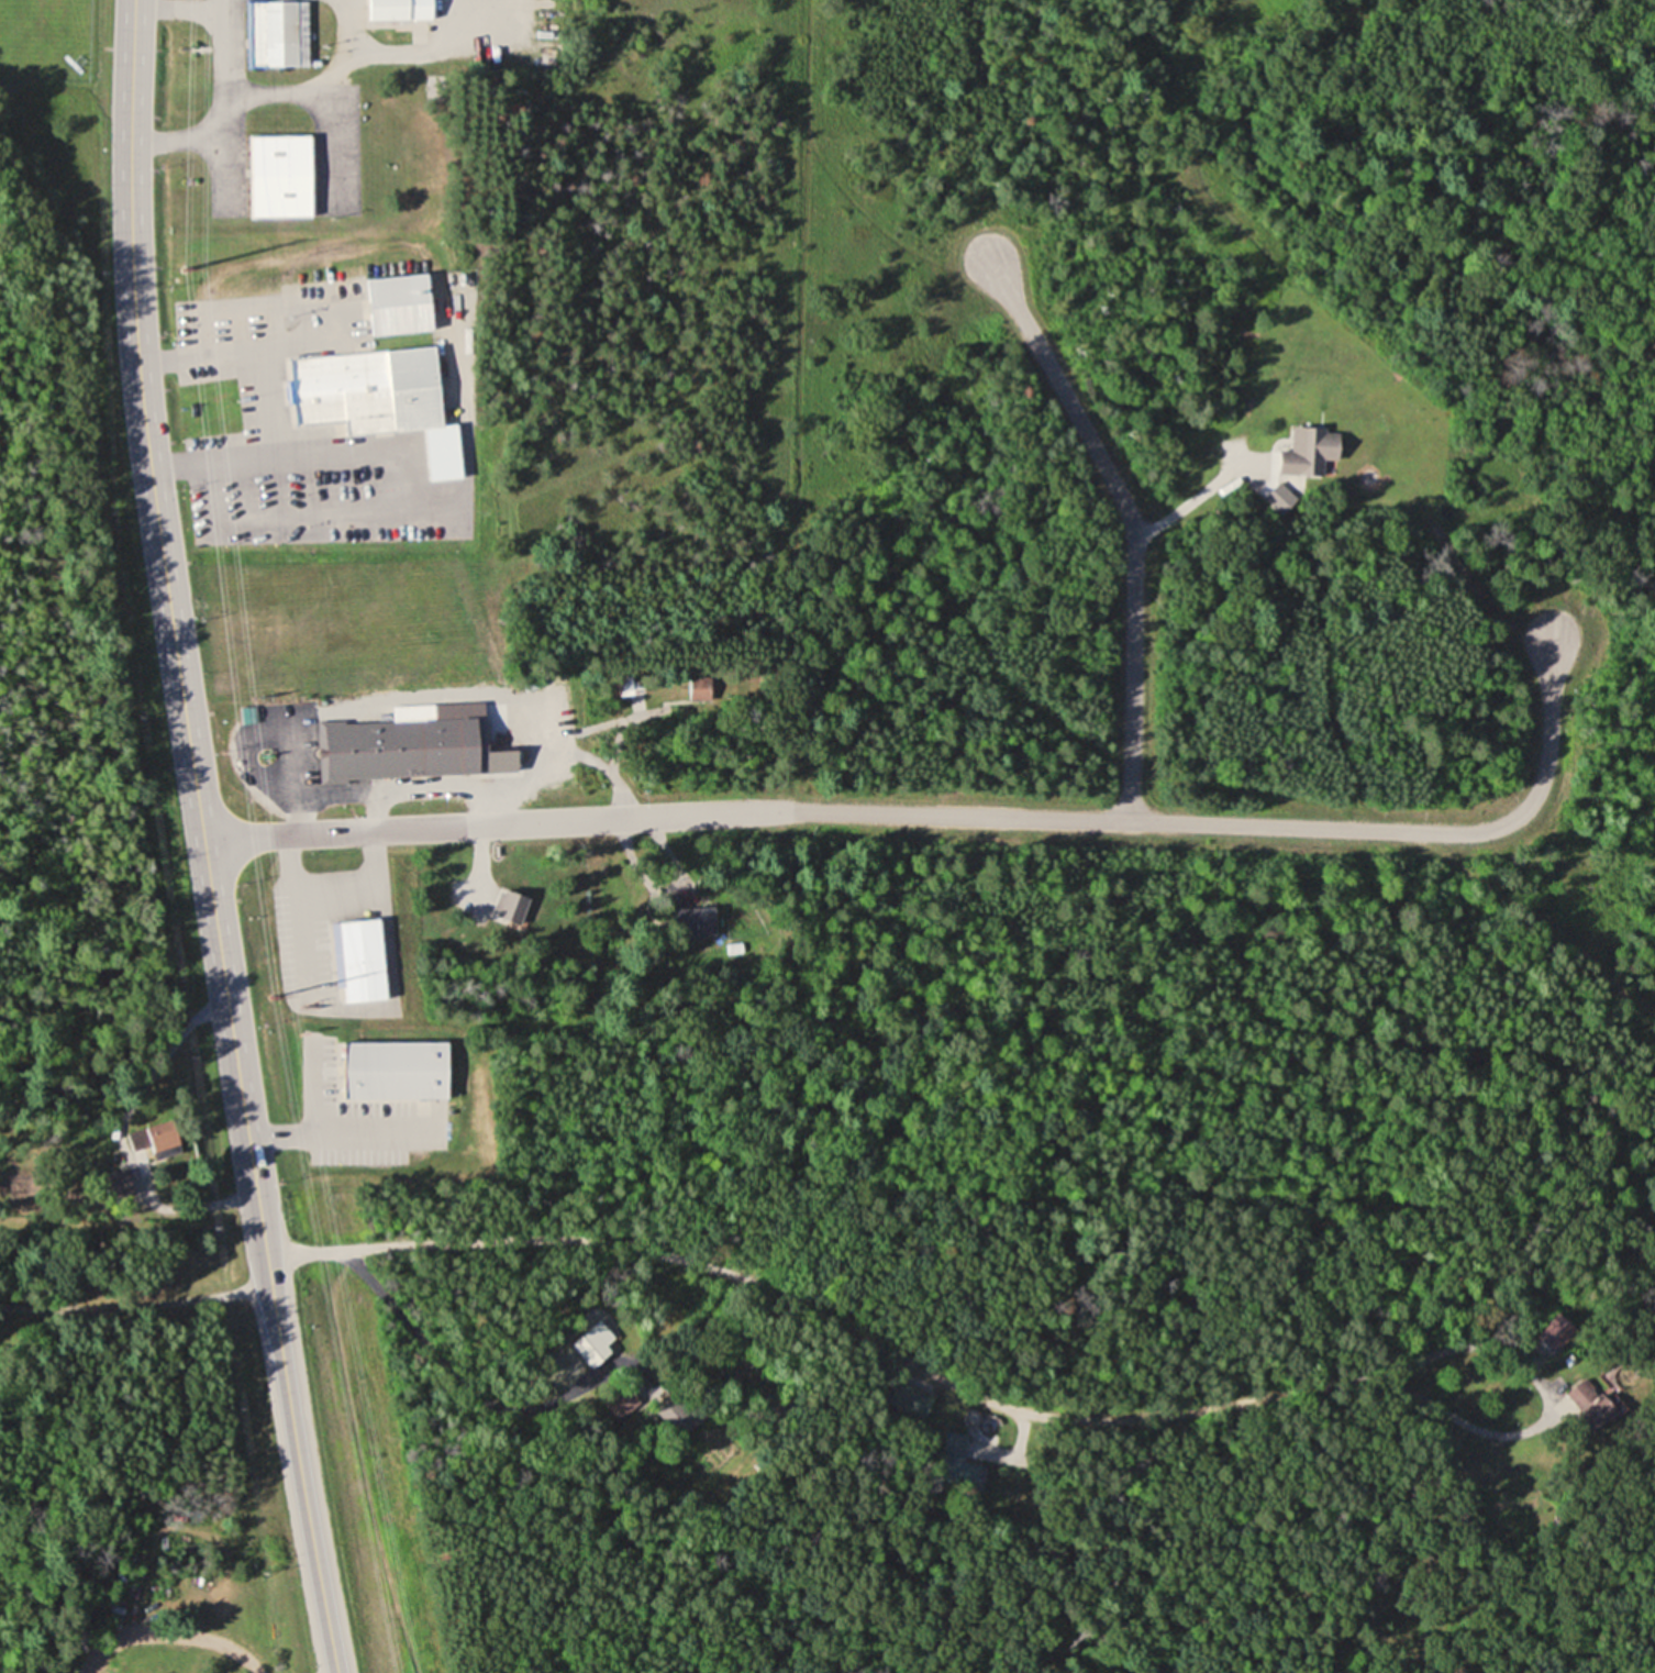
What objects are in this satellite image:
building: (400, 10)
building: (278, 34)
building: (280, 177)
power tower: (178, 266)
building: (334, 388)
building: (414, 389)
building: (1311, 453)
road: (1185, 505)
road: (1131, 523)
building: (627, 685)
building: (399, 750)
road: (957, 816)
road: (202, 839)
building: (511, 907)
building: (692, 921)
building: (363, 960)
power tower: (269, 997)
building: (396, 1070)
building: (154, 1137)
building: (116, 1184)
road: (156, 1304)
road: (807, 1311)
building: (591, 1347)
road: (432, 1353)
building: (1584, 1396)
building: (909, 1399)
building: (621, 1401)
building: (956, 1464)

